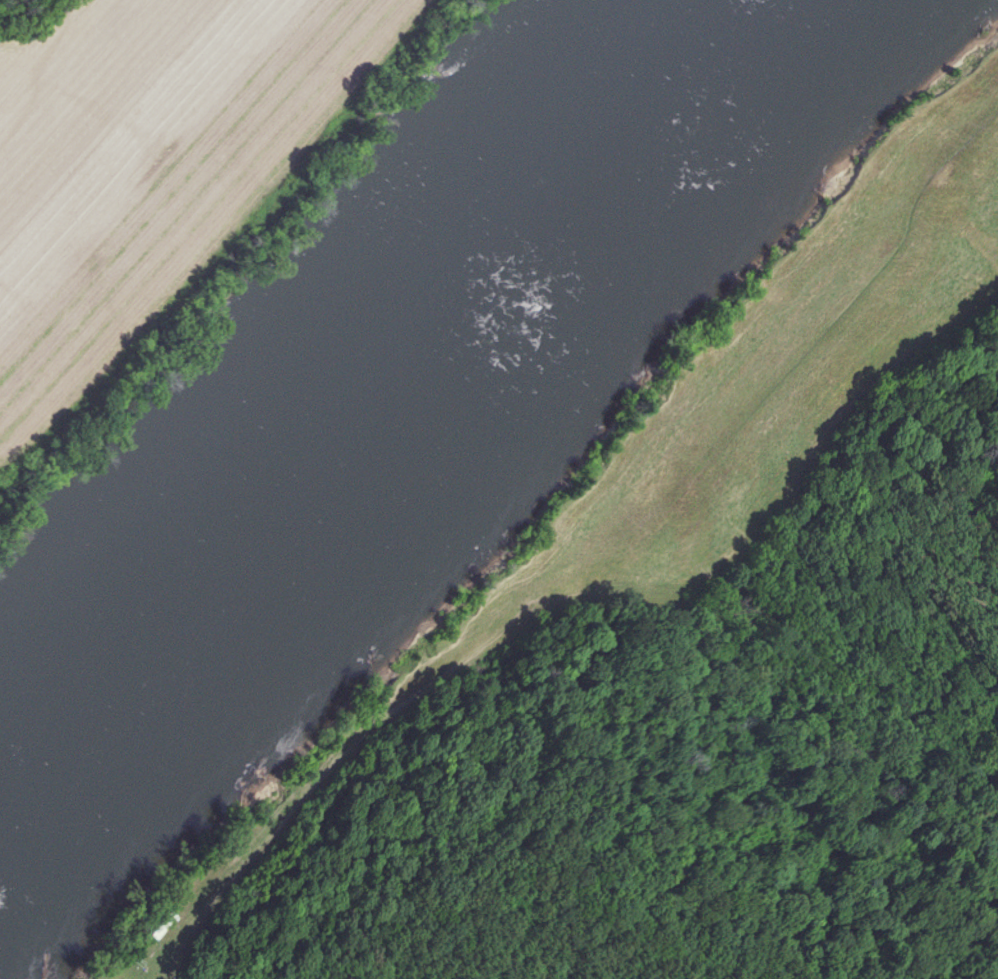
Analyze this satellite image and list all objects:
river: (431, 384)

